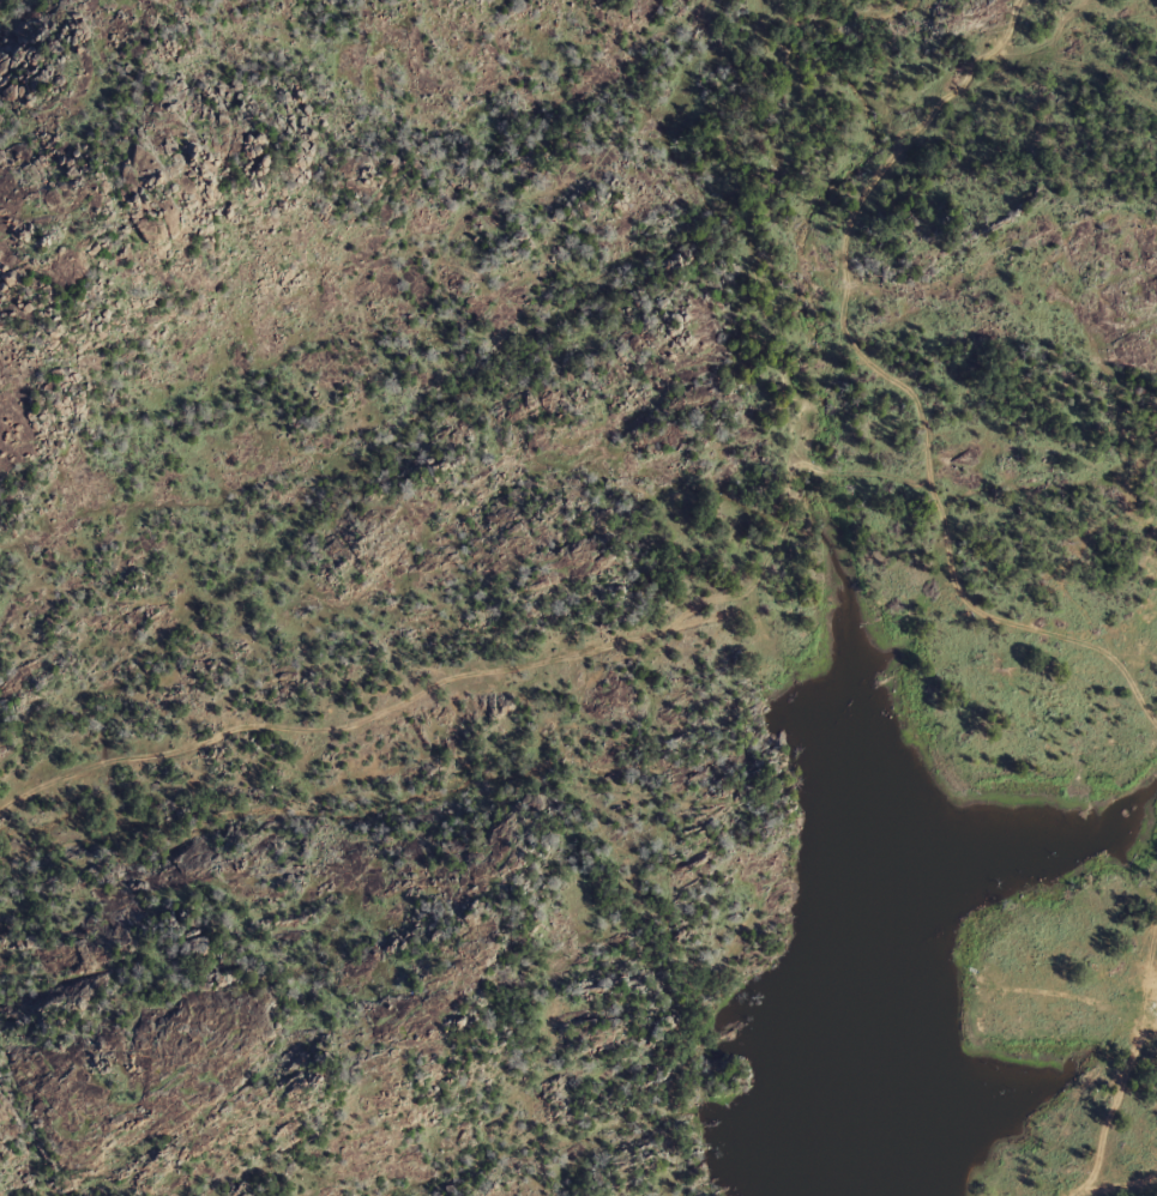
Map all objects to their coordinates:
road: (887, 374)
road: (1109, 1185)

